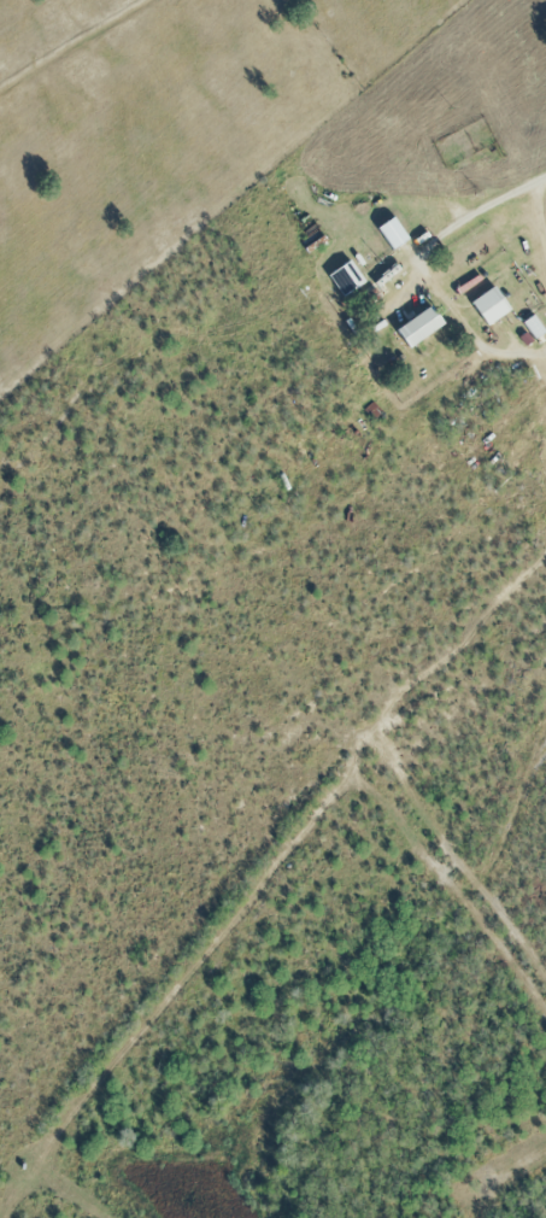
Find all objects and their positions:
road: (545, 176)
road: (540, 207)
road: (424, 268)
building: (491, 308)
building: (421, 329)

